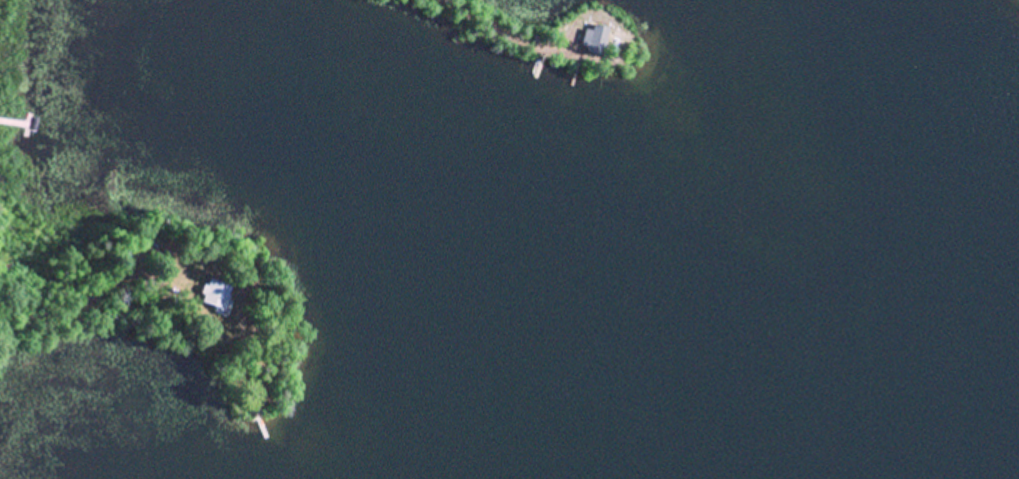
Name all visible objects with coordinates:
road: (499, 18)
building: (592, 35)
building: (126, 247)
building: (211, 290)

